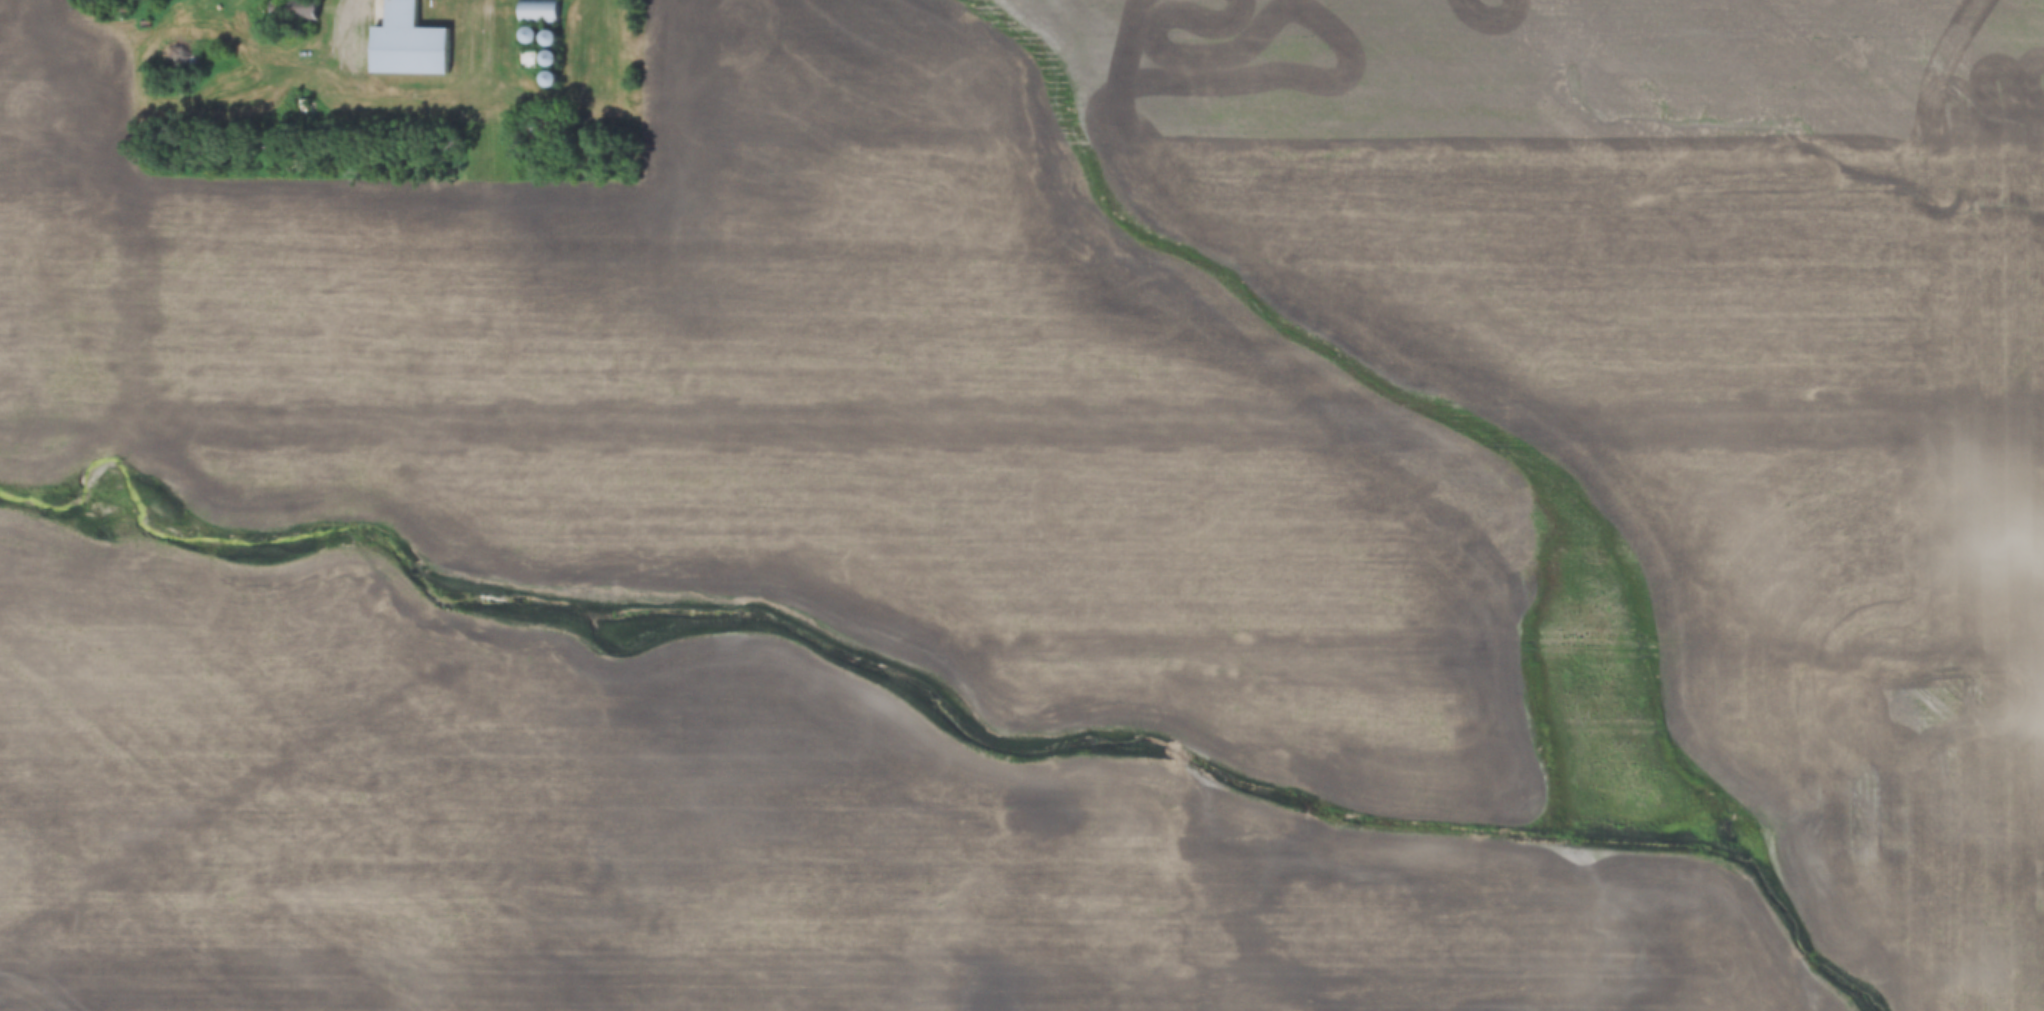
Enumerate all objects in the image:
building: (287, 9)
building: (536, 12)
road: (340, 33)
building: (405, 45)
road: (442, 88)

